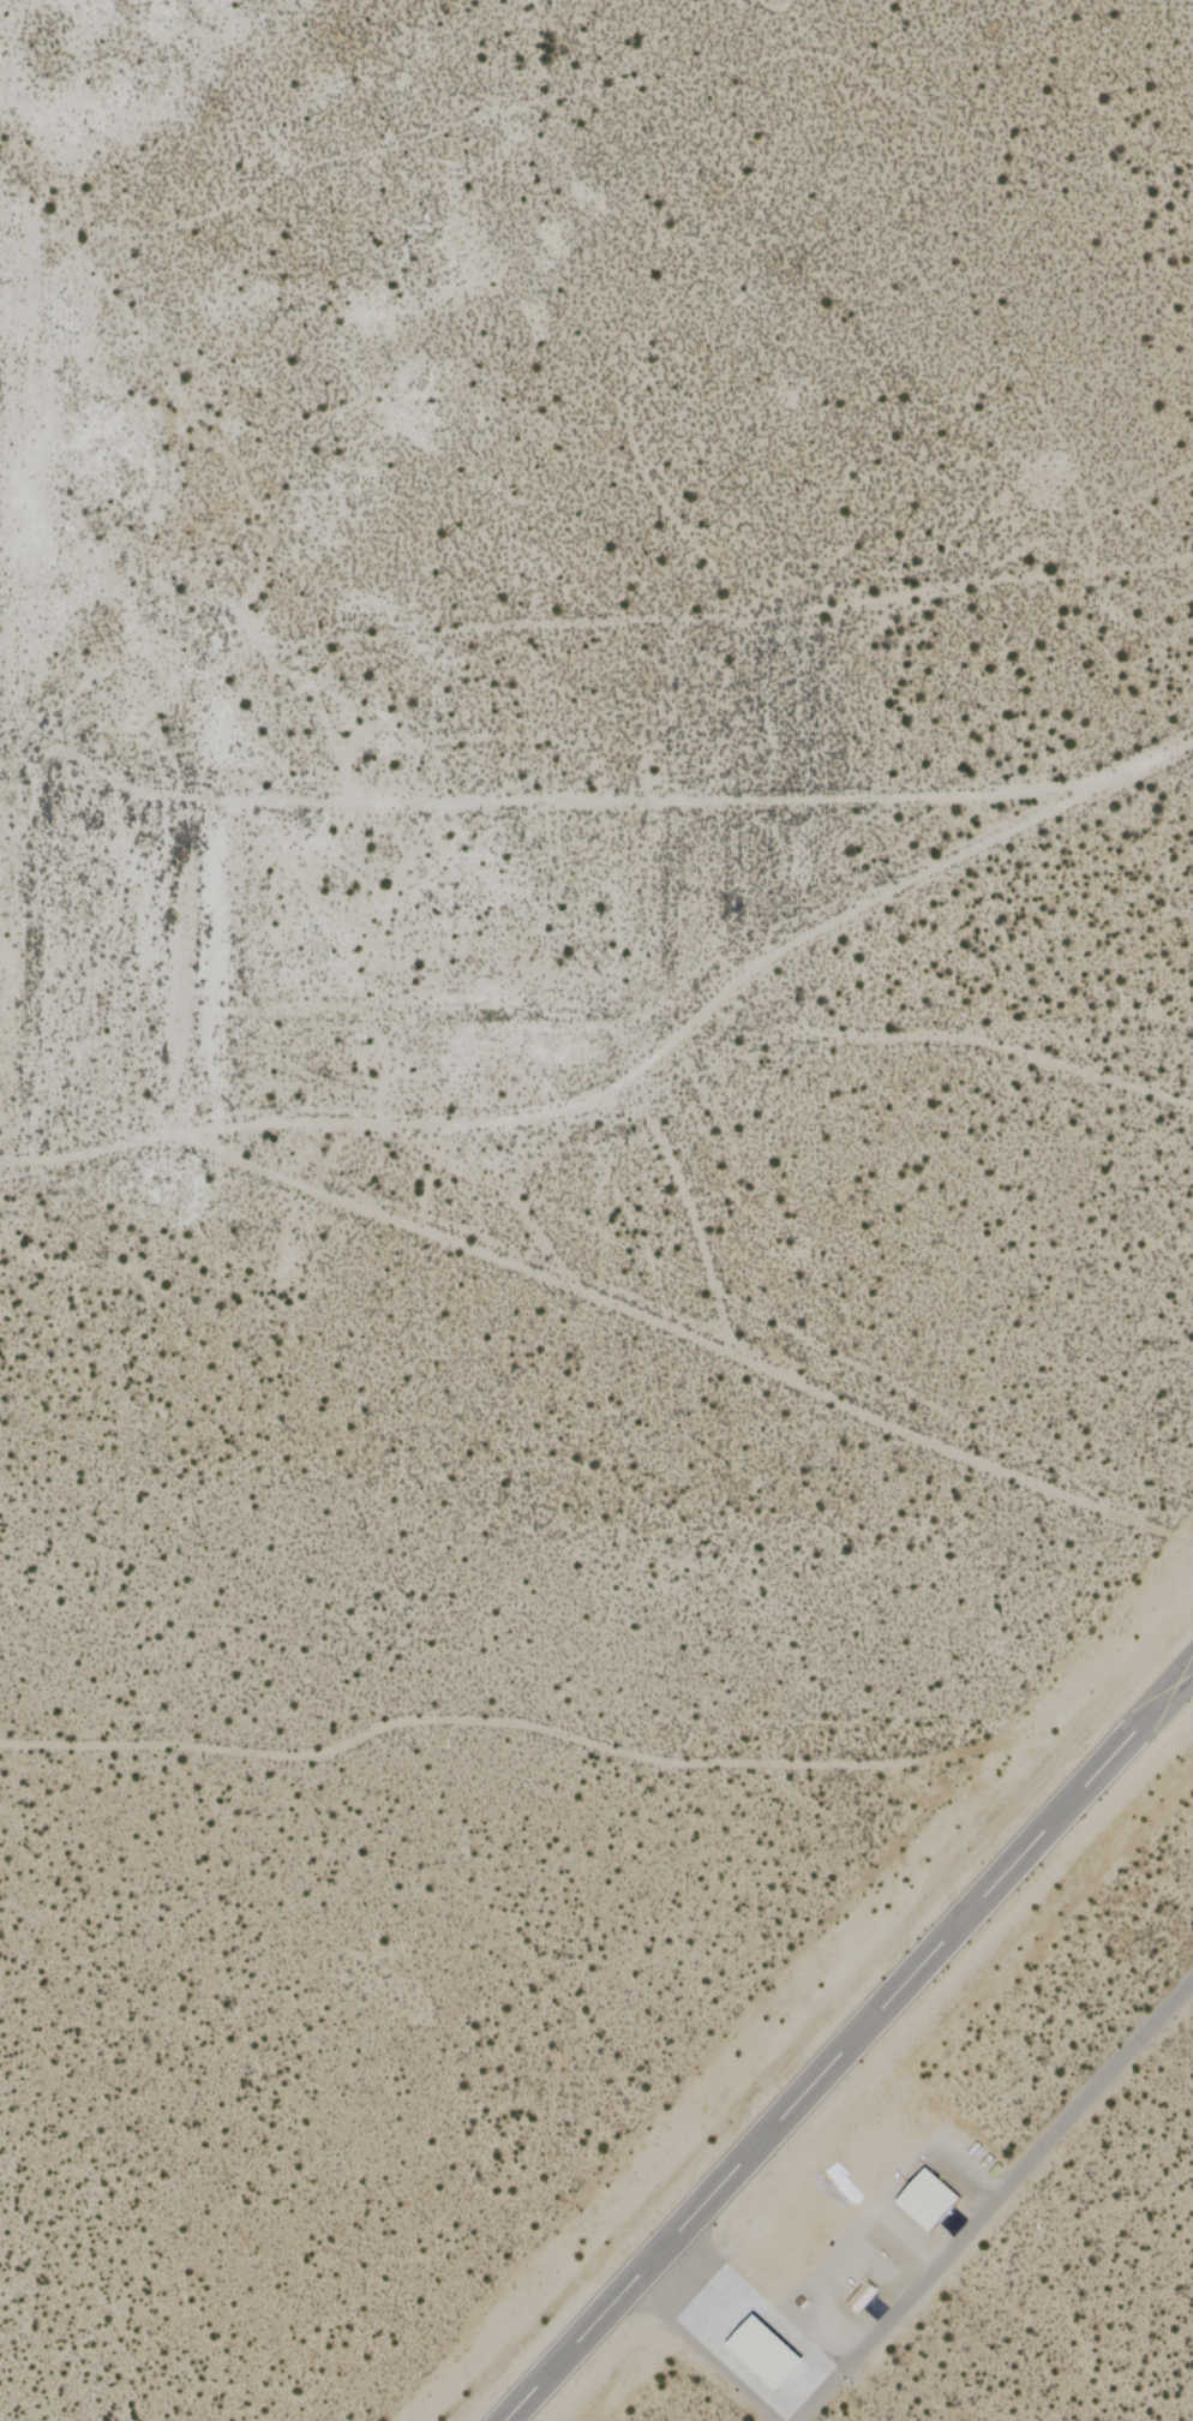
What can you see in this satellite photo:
airport: (596, 1210)
airport runway: (847, 2042)
road: (993, 2200)
building: (921, 2207)
building: (855, 2303)
building: (772, 2354)

